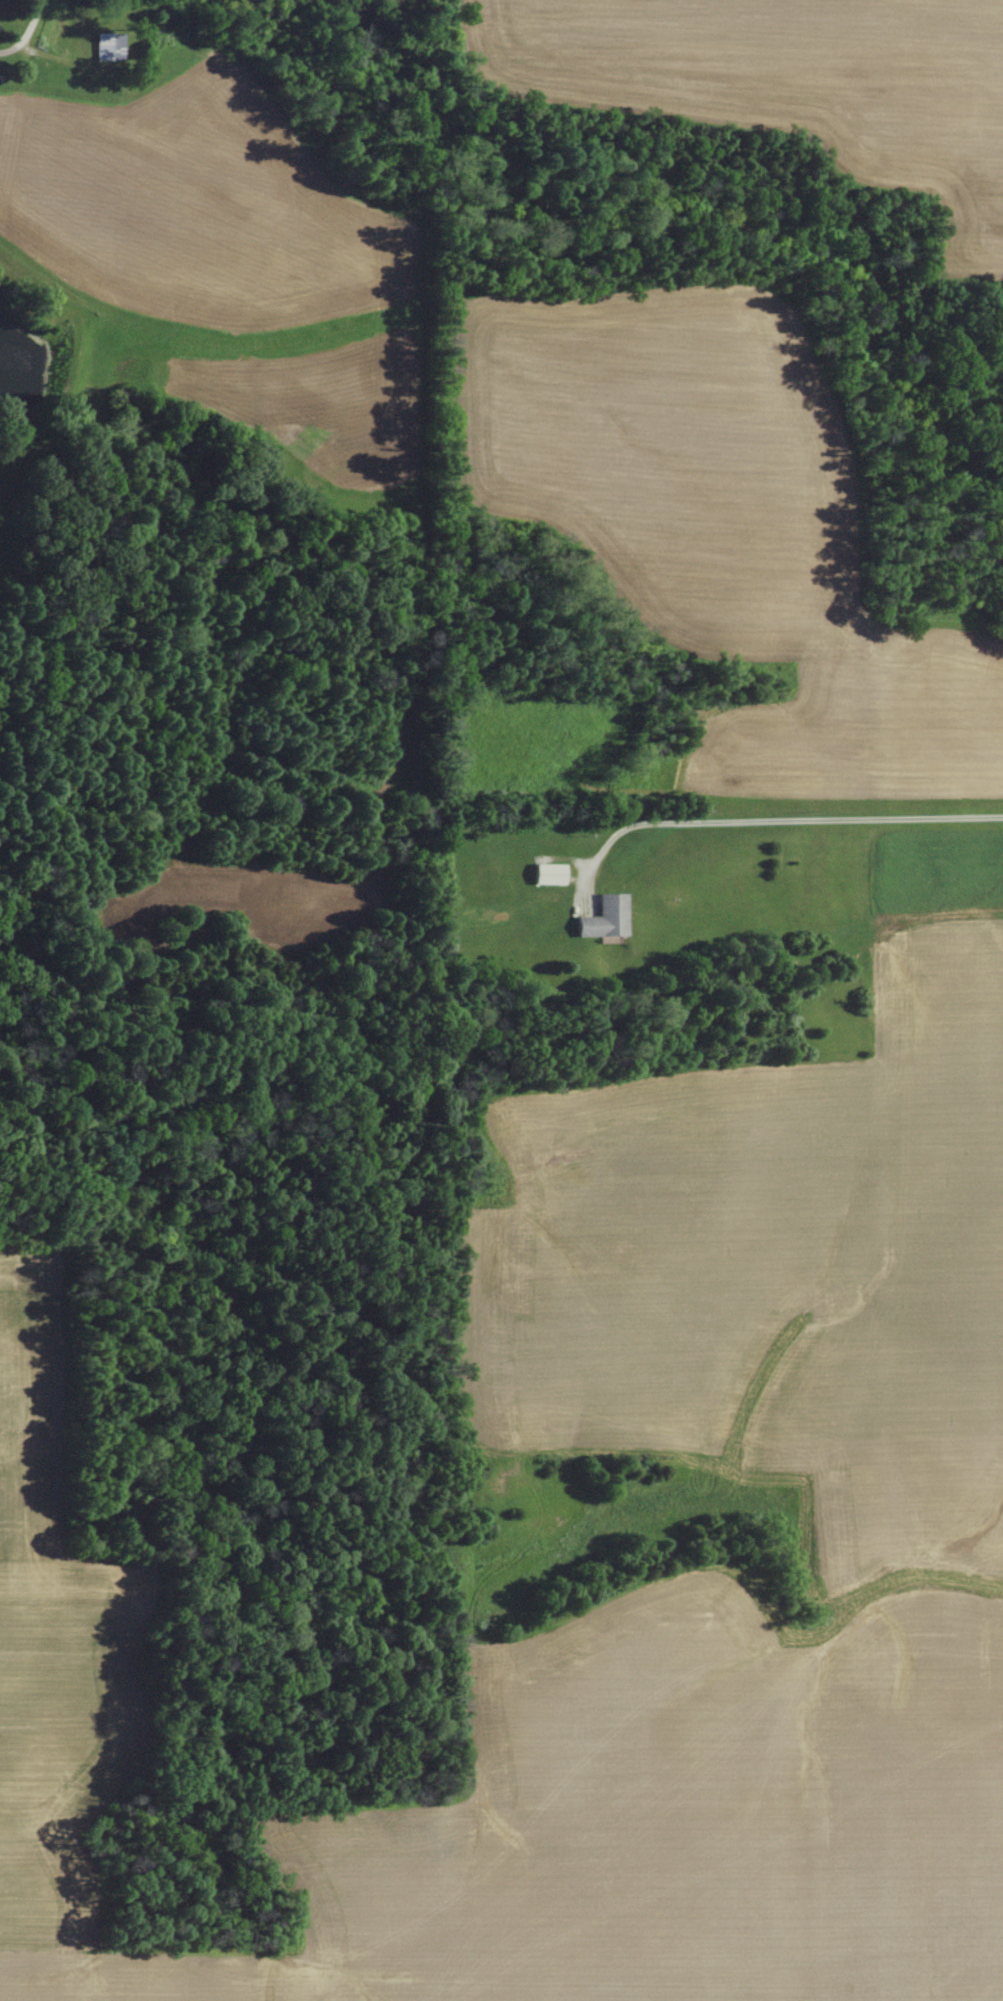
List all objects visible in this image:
road: (31, 17)
building: (109, 47)
road: (772, 821)
building: (549, 875)
building: (606, 918)

